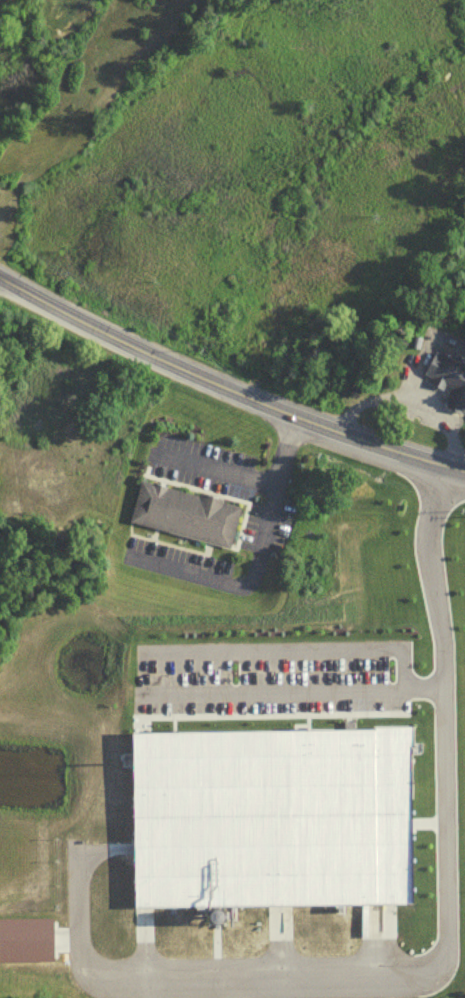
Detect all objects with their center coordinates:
building: (445, 377)
road: (226, 392)
road: (405, 394)
road: (215, 463)
building: (178, 512)
road: (255, 557)
road: (292, 688)
building: (268, 817)
building: (25, 937)
road: (444, 948)

